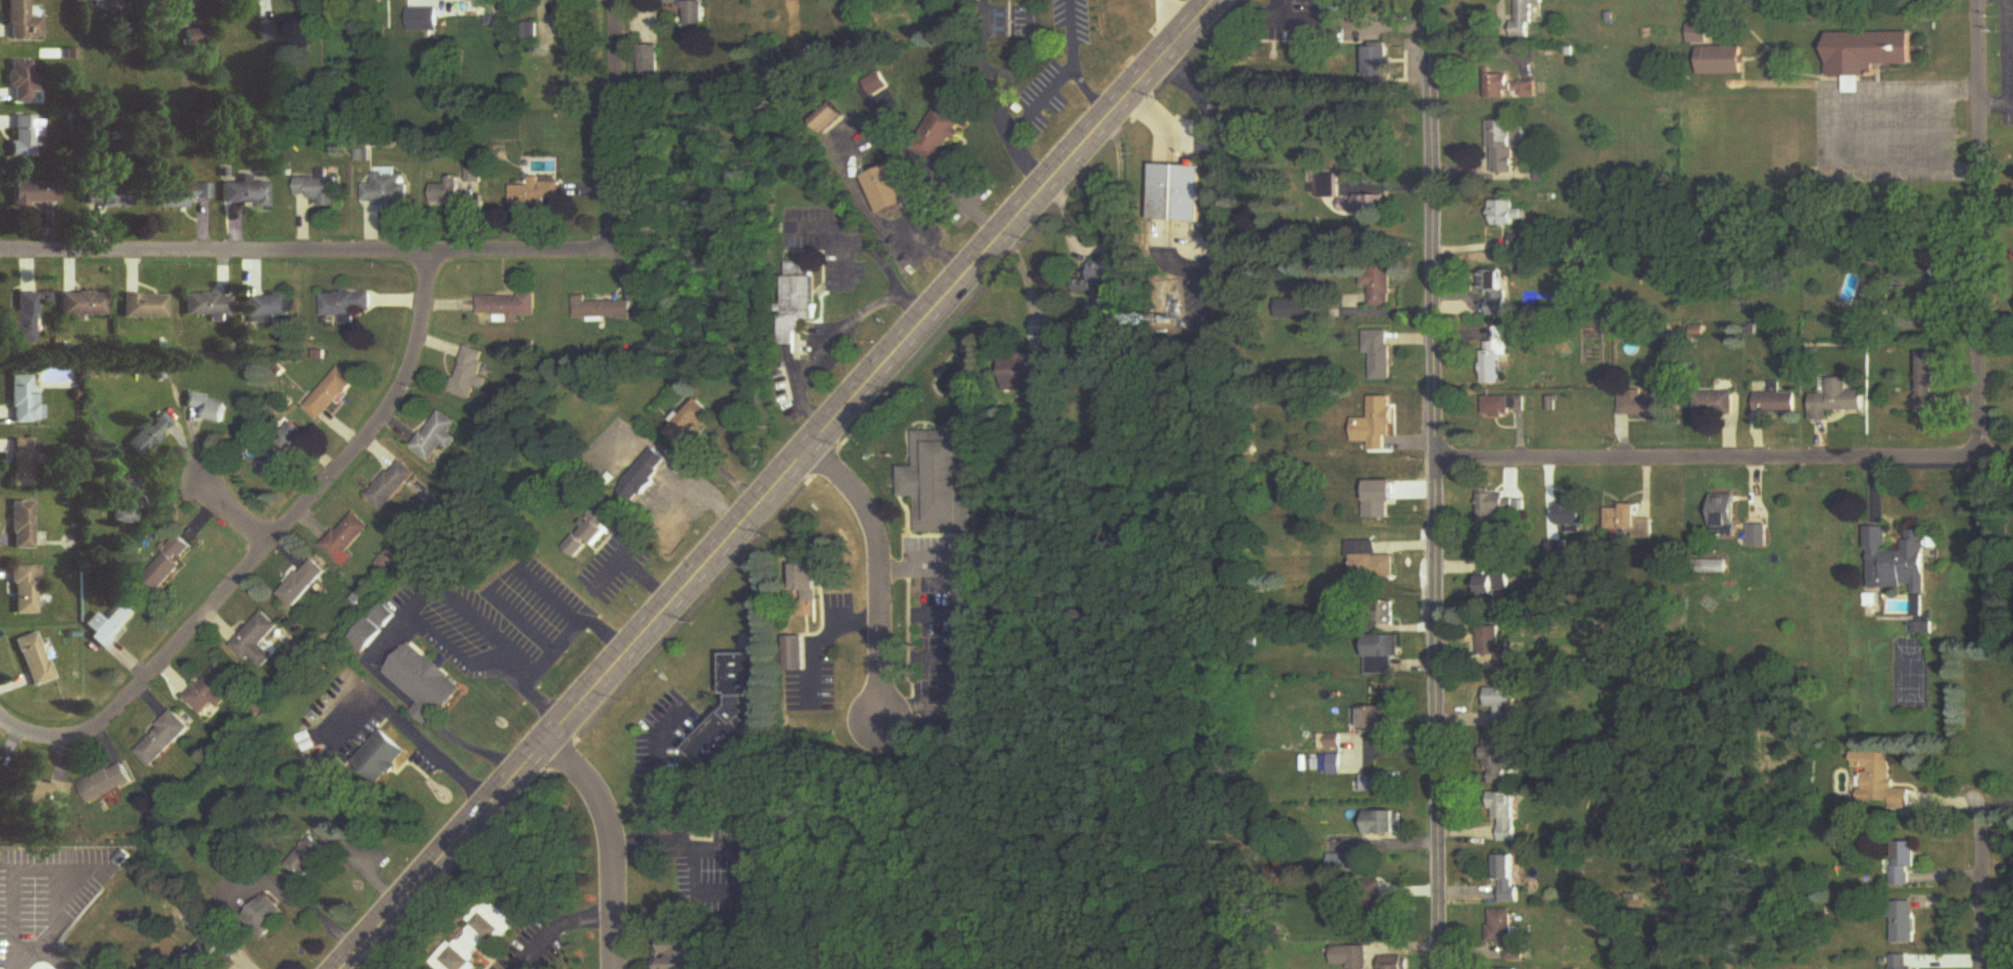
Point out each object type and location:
building: (105, 2)
building: (238, 2)
building: (360, 2)
building: (568, 2)
building: (168, 8)
building: (694, 11)
road: (1297, 14)
building: (1527, 16)
building: (22, 21)
building: (432, 21)
road: (1165, 21)
road: (1073, 32)
building: (1699, 34)
building: (1867, 55)
building: (1721, 61)
building: (1379, 63)
building: (650, 65)
building: (20, 82)
building: (875, 84)
building: (1511, 88)
road: (1040, 98)
building: (828, 118)
road: (1942, 128)
building: (939, 135)
building: (24, 137)
building: (1506, 146)
building: (1328, 186)
building: (319, 190)
building: (888, 190)
building: (386, 191)
building: (34, 193)
building: (446, 193)
building: (539, 194)
building: (1179, 194)
building: (249, 195)
building: (179, 196)
road: (957, 196)
building: (107, 197)
building: (1365, 205)
building: (1508, 214)
road: (1977, 229)
road: (859, 238)
building: (1522, 243)
road: (427, 252)
road: (845, 254)
building: (1101, 278)
building: (1379, 284)
building: (1498, 292)
building: (1877, 297)
building: (800, 300)
building: (83, 305)
building: (208, 305)
building: (346, 306)
building: (144, 307)
building: (269, 308)
building: (508, 308)
building: (1295, 309)
building: (606, 310)
building: (24, 318)
road: (838, 335)
building: (1382, 355)
building: (1497, 357)
building: (1024, 373)
building: (470, 374)
building: (1930, 380)
building: (330, 395)
building: (1836, 401)
building: (24, 402)
building: (1775, 403)
building: (1642, 404)
building: (1713, 404)
building: (1499, 407)
building: (208, 409)
building: (695, 422)
building: (1378, 425)
building: (149, 435)
building: (436, 437)
building: (280, 454)
road: (1723, 459)
building: (23, 464)
building: (646, 476)
road: (774, 483)
building: (941, 483)
road: (1433, 484)
building: (393, 487)
building: (126, 500)
building: (1381, 500)
building: (1500, 506)
building: (1571, 515)
building: (1725, 515)
road: (239, 516)
building: (1622, 518)
building: (22, 526)
building: (591, 533)
building: (1758, 536)
building: (348, 540)
road: (267, 551)
building: (1557, 551)
building: (1900, 561)
building: (169, 562)
building: (1370, 563)
road: (635, 565)
building: (1711, 565)
road: (876, 569)
building: (304, 584)
building: (1496, 587)
building: (808, 588)
building: (25, 590)
building: (111, 626)
road: (962, 631)
road: (820, 633)
building: (368, 636)
building: (257, 642)
building: (1498, 646)
road: (556, 654)
building: (796, 655)
building: (1384, 655)
building: (34, 660)
building: (426, 684)
building: (213, 689)
building: (1504, 705)
building: (734, 719)
building: (1381, 721)
road: (413, 736)
building: (163, 740)
building: (1332, 743)
building: (383, 759)
building: (1497, 762)
building: (1333, 765)
road: (657, 780)
building: (1880, 781)
building: (107, 784)
building: (1382, 784)
building: (39, 795)
road: (1991, 810)
building: (1508, 818)
building: (1384, 824)
road: (609, 843)
building: (312, 859)
building: (1905, 865)
building: (1509, 878)
road: (723, 888)
road: (1981, 897)
building: (268, 915)
road: (554, 923)
building: (1905, 923)
building: (1507, 934)
building: (475, 942)
building: (208, 948)
building: (676, 952)
building: (1352, 957)
building: (1904, 962)
building: (1396, 963)

